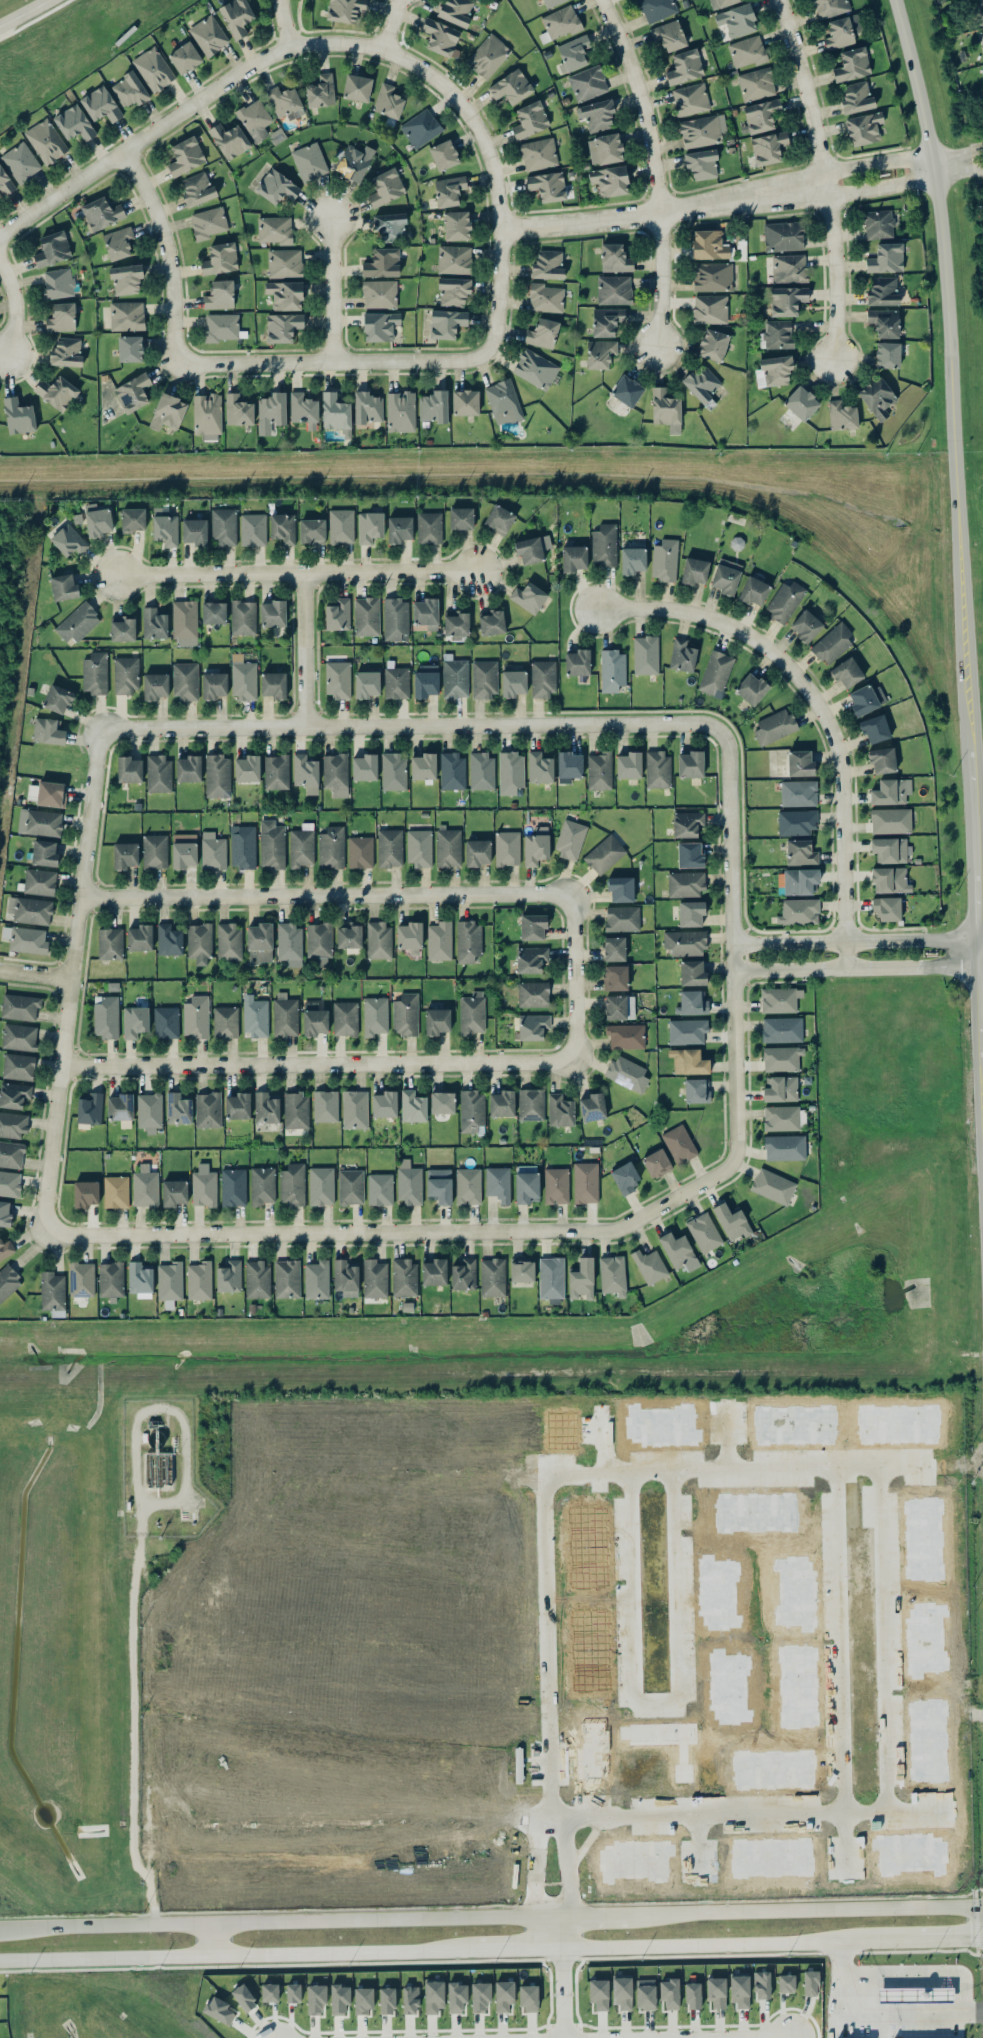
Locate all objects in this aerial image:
building: (551, 2)
building: (982, 2)
building: (721, 3)
building: (830, 7)
building: (657, 9)
building: (345, 10)
building: (456, 11)
road: (22, 13)
building: (236, 16)
building: (736, 20)
building: (561, 22)
road: (278, 23)
road: (389, 26)
building: (842, 31)
building: (982, 31)
building: (209, 35)
building: (669, 35)
building: (440, 36)
road: (328, 42)
building: (747, 51)
building: (573, 53)
building: (488, 56)
building: (185, 57)
building: (852, 64)
building: (684, 66)
building: (154, 69)
building: (588, 83)
building: (756, 83)
building: (511, 86)
building: (357, 87)
building: (130, 89)
building: (321, 91)
building: (856, 97)
building: (690, 99)
building: (388, 101)
building: (285, 102)
building: (101, 104)
building: (598, 115)
building: (761, 115)
building: (255, 119)
building: (530, 119)
building: (74, 122)
building: (421, 128)
building: (864, 128)
building: (702, 130)
building: (229, 139)
building: (46, 140)
building: (767, 148)
building: (605, 149)
building: (538, 153)
building: (444, 154)
building: (186, 156)
building: (309, 162)
building: (354, 162)
building: (701, 163)
road: (961, 165)
building: (17, 166)
road: (649, 168)
road: (822, 178)
building: (610, 180)
building: (548, 185)
building: (276, 186)
building: (386, 187)
building: (197, 188)
building: (449, 190)
road: (719, 202)
building: (102, 212)
building: (209, 222)
building: (878, 224)
building: (456, 225)
building: (390, 226)
building: (275, 229)
building: (783, 235)
building: (118, 242)
building: (709, 244)
building: (52, 248)
building: (220, 258)
building: (615, 258)
building: (886, 258)
building: (454, 259)
building: (284, 262)
building: (383, 262)
building: (548, 264)
building: (789, 268)
building: (712, 276)
building: (126, 278)
building: (58, 282)
road: (331, 287)
building: (614, 289)
building: (453, 291)
building: (883, 291)
building: (379, 293)
building: (220, 294)
building: (285, 294)
building: (545, 297)
building: (786, 300)
road: (954, 301)
building: (710, 309)
road: (13, 311)
building: (127, 315)
building: (61, 317)
building: (606, 321)
building: (884, 322)
building: (446, 323)
road: (170, 325)
building: (380, 325)
building: (221, 326)
building: (282, 326)
building: (542, 333)
building: (778, 334)
building: (713, 344)
building: (130, 348)
building: (66, 351)
building: (600, 353)
building: (887, 354)
road: (418, 357)
building: (535, 368)
building: (773, 370)
building: (702, 383)
building: (627, 390)
building: (57, 392)
building: (132, 392)
building: (877, 397)
building: (503, 401)
building: (465, 402)
building: (801, 402)
building: (434, 406)
building: (367, 407)
building: (272, 408)
building: (666, 409)
building: (238, 410)
building: (401, 411)
building: (168, 412)
building: (336, 413)
building: (207, 415)
building: (842, 415)
building: (18, 416)
building: (133, 518)
building: (461, 518)
building: (98, 519)
building: (499, 519)
building: (165, 525)
building: (224, 526)
building: (341, 526)
building: (370, 526)
building: (283, 527)
building: (429, 527)
building: (400, 528)
building: (253, 529)
building: (194, 531)
building: (312, 531)
building: (69, 540)
building: (604, 544)
building: (532, 548)
building: (574, 558)
building: (633, 560)
building: (665, 560)
building: (694, 570)
road: (296, 574)
building: (726, 576)
building: (64, 587)
building: (753, 590)
building: (529, 597)
building: (785, 601)
building: (213, 612)
building: (426, 612)
building: (272, 613)
building: (338, 614)
building: (366, 616)
building: (243, 617)
building: (395, 618)
building: (185, 619)
building: (492, 621)
building: (77, 623)
building: (154, 623)
building: (456, 624)
building: (806, 625)
building: (123, 628)
building: (833, 642)
road: (304, 648)
building: (645, 654)
building: (682, 655)
building: (578, 662)
building: (612, 670)
building: (847, 672)
building: (95, 673)
building: (716, 673)
building: (126, 675)
building: (455, 676)
building: (543, 677)
building: (484, 678)
building: (337, 679)
building: (185, 680)
building: (244, 680)
building: (425, 681)
building: (397, 682)
building: (513, 682)
building: (274, 684)
building: (367, 684)
building: (214, 685)
building: (155, 686)
building: (751, 688)
building: (58, 698)
building: (866, 698)
road: (823, 710)
road: (413, 722)
building: (775, 726)
building: (875, 728)
building: (48, 731)
building: (882, 760)
building: (800, 763)
building: (629, 764)
building: (690, 764)
building: (423, 766)
building: (569, 766)
building: (364, 767)
building: (540, 767)
building: (188, 768)
building: (247, 768)
building: (129, 769)
building: (658, 769)
building: (394, 770)
building: (600, 770)
building: (276, 771)
building: (453, 771)
building: (482, 771)
building: (510, 772)
building: (159, 773)
building: (306, 773)
building: (335, 773)
building: (218, 775)
building: (891, 791)
building: (798, 793)
building: (51, 794)
building: (890, 820)
building: (40, 822)
building: (796, 822)
building: (687, 823)
road: (975, 834)
building: (570, 838)
building: (272, 844)
building: (302, 845)
building: (537, 845)
building: (243, 846)
building: (448, 846)
building: (331, 847)
building: (390, 847)
building: (419, 847)
building: (507, 848)
building: (889, 849)
building: (184, 850)
building: (155, 851)
building: (213, 851)
building: (360, 851)
building: (44, 852)
building: (478, 852)
building: (801, 852)
building: (125, 854)
building: (604, 854)
building: (690, 855)
building: (890, 879)
building: (800, 880)
building: (40, 881)
building: (686, 883)
building: (621, 888)
road: (329, 894)
building: (887, 908)
building: (30, 909)
building: (799, 911)
building: (691, 913)
building: (622, 918)
building: (533, 926)
building: (349, 935)
building: (409, 935)
building: (140, 937)
building: (169, 939)
building: (28, 940)
building: (379, 940)
building: (439, 940)
road: (860, 940)
building: (229, 941)
building: (468, 941)
building: (199, 942)
building: (260, 942)
building: (319, 942)
building: (685, 942)
building: (110, 943)
building: (290, 943)
building: (614, 948)
building: (531, 959)
road: (859, 969)
building: (692, 972)
road: (34, 976)
road: (578, 976)
road: (68, 977)
building: (615, 977)
building: (533, 994)
building: (780, 999)
building: (692, 1003)
building: (20, 1006)
building: (615, 1007)
building: (472, 1012)
building: (405, 1014)
building: (285, 1015)
building: (375, 1015)
building: (106, 1016)
building: (196, 1016)
building: (255, 1017)
road: (737, 1017)
building: (314, 1018)
building: (346, 1018)
building: (135, 1021)
building: (437, 1021)
building: (166, 1022)
building: (225, 1022)
building: (533, 1026)
building: (782, 1029)
building: (687, 1031)
building: (626, 1035)
building: (19, 1036)
building: (782, 1058)
building: (688, 1061)
road: (319, 1063)
building: (18, 1066)
building: (627, 1073)
building: (780, 1088)
building: (697, 1090)
building: (14, 1094)
building: (442, 1102)
building: (502, 1103)
building: (384, 1104)
building: (531, 1104)
building: (238, 1105)
building: (325, 1105)
building: (120, 1106)
building: (413, 1106)
building: (266, 1107)
building: (592, 1107)
building: (89, 1108)
building: (178, 1108)
building: (208, 1109)
building: (296, 1109)
building: (355, 1109)
building: (560, 1110)
building: (149, 1111)
building: (472, 1111)
building: (783, 1118)
building: (13, 1124)
building: (680, 1143)
building: (784, 1147)
building: (11, 1154)
building: (656, 1163)
building: (625, 1177)
building: (409, 1182)
building: (585, 1182)
building: (10, 1183)
building: (498, 1183)
building: (526, 1183)
building: (292, 1184)
building: (262, 1185)
building: (321, 1185)
building: (439, 1185)
building: (556, 1185)
building: (145, 1186)
building: (204, 1186)
building: (350, 1186)
building: (468, 1186)
building: (773, 1186)
building: (233, 1187)
building: (380, 1188)
building: (116, 1191)
building: (174, 1192)
building: (85, 1193)
building: (5, 1213)
building: (732, 1221)
road: (326, 1232)
building: (704, 1232)
building: (5, 1248)
building: (678, 1251)
building: (649, 1265)
building: (522, 1270)
building: (434, 1271)
building: (464, 1274)
building: (613, 1274)
building: (229, 1276)
building: (404, 1276)
building: (492, 1276)
building: (140, 1277)
building: (346, 1277)
building: (81, 1278)
building: (257, 1278)
building: (287, 1278)
building: (375, 1278)
building: (582, 1278)
building: (111, 1279)
building: (317, 1279)
building: (170, 1280)
building: (199, 1280)
building: (8, 1281)
building: (52, 1290)
road: (600, 1443)
road: (730, 1443)
road: (570, 1476)
road: (891, 1640)
road: (842, 1641)
road: (657, 1704)
road: (724, 1814)
road: (586, 1843)
road: (848, 1844)
road: (702, 1847)
road: (567, 1864)
road: (538, 1867)
road: (554, 1910)
road: (808, 1911)
road: (594, 1915)
road: (276, 1921)
road: (214, 1939)
traffic signals: (970, 1940)
road: (920, 1941)
road: (706, 1945)
road: (512, 1950)
road: (234, 1955)
road: (556, 1976)
road: (921, 1977)
building: (810, 1982)
building: (786, 1983)
building: (762, 1984)
building: (716, 1991)
building: (740, 1991)
building: (269, 1992)
building: (293, 1992)
road: (839, 1992)
building: (599, 1993)
building: (622, 1993)
building: (645, 1993)
building: (669, 1993)
building: (434, 1995)
building: (457, 1995)
building: (504, 1995)
building: (692, 1995)
building: (480, 1996)
building: (244, 1997)
building: (339, 1998)
building: (529, 1998)
building: (410, 1999)
building: (363, 2000)
building: (387, 2000)
building: (220, 2010)
road: (905, 2028)
road: (647, 2036)

